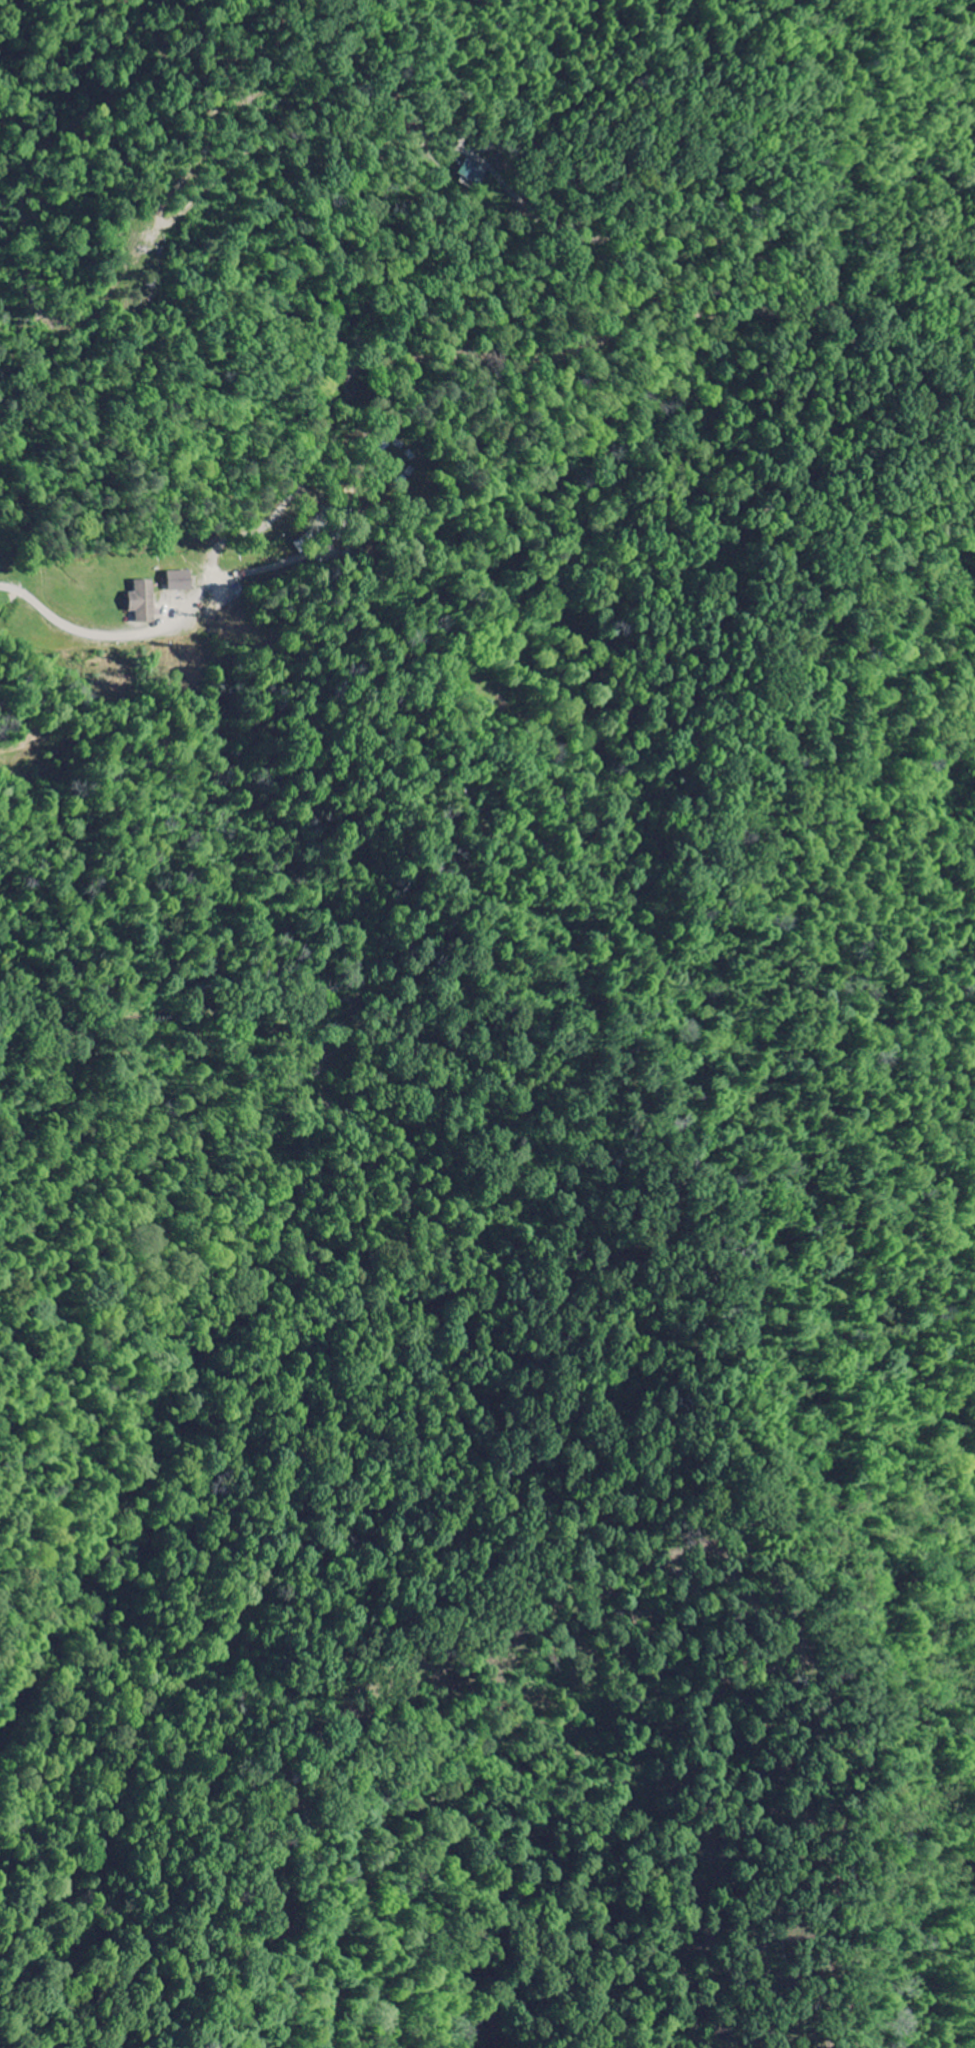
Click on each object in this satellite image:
building: (180, 582)
road: (13, 583)
building: (143, 603)

